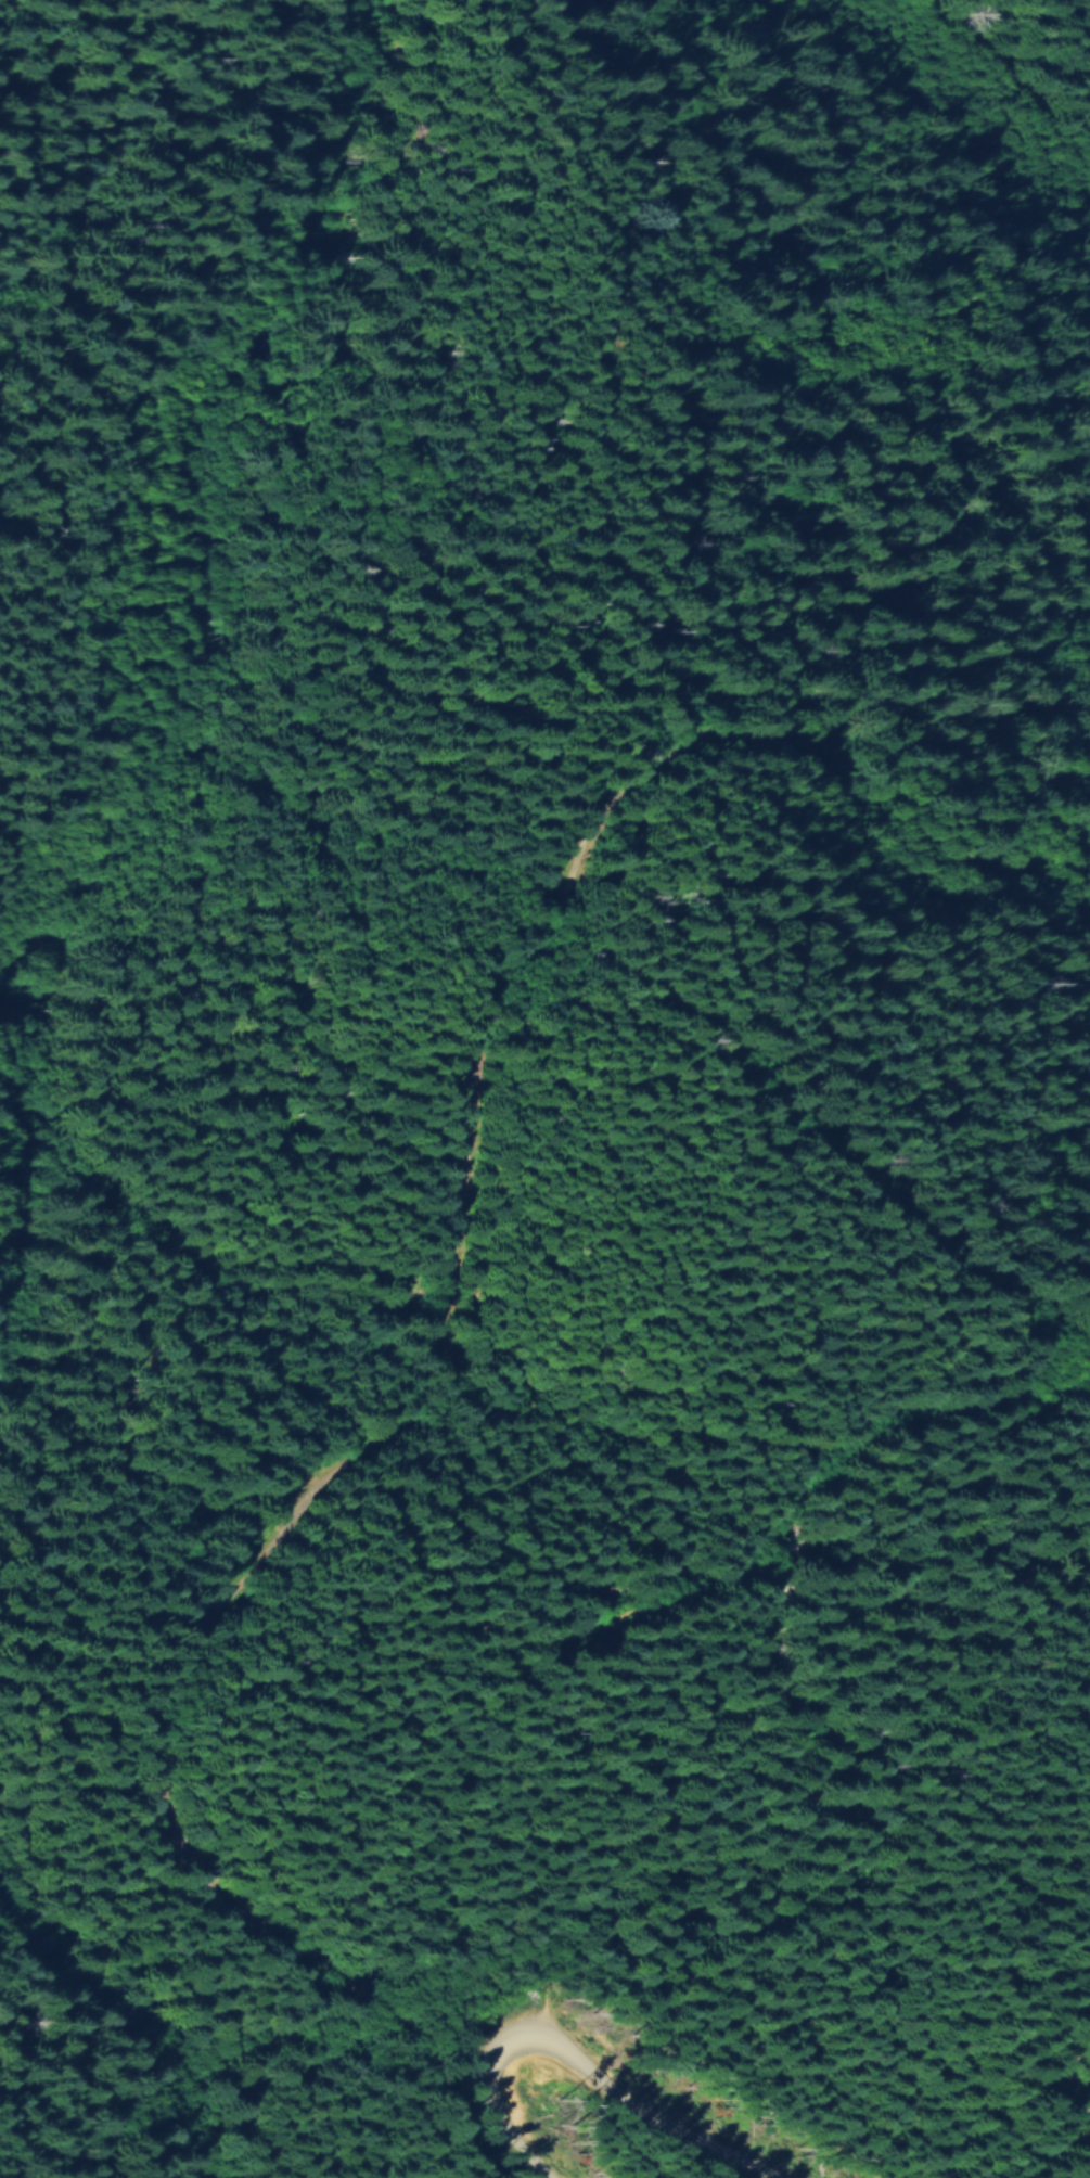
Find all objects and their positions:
road: (444, 1312)
road: (523, 2117)

